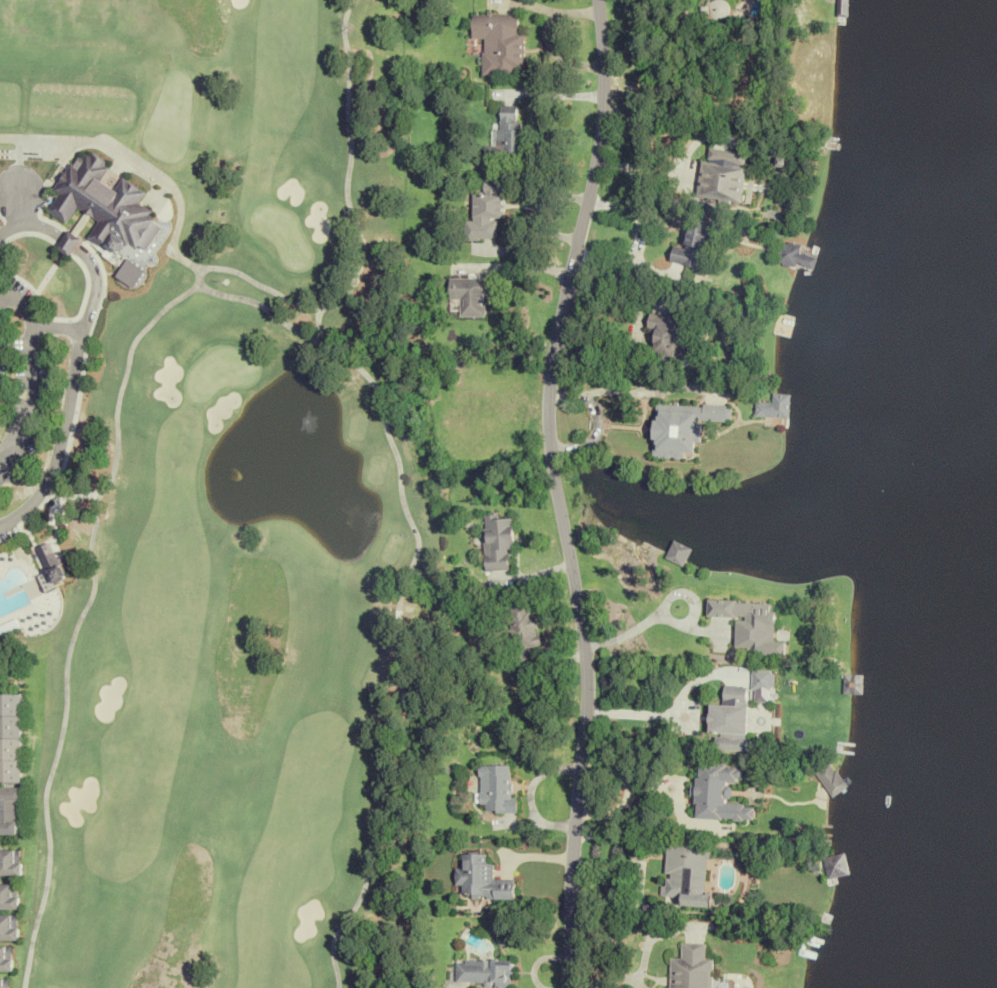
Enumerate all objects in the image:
building: (843, 7)
building: (501, 44)
building: (509, 135)
building: (723, 173)
building: (105, 204)
building: (488, 210)
building: (70, 243)
building: (695, 244)
building: (792, 256)
building: (469, 296)
building: (670, 335)
road: (78, 348)
building: (772, 407)
building: (682, 427)
road: (556, 492)
building: (50, 564)
road: (651, 614)
building: (520, 629)
building: (853, 684)
road: (679, 708)
road: (630, 712)
building: (730, 720)
building: (10, 738)
building: (829, 780)
building: (495, 789)
building: (719, 794)
building: (9, 811)
building: (9, 862)
building: (835, 866)
building: (687, 874)
building: (480, 880)
building: (8, 896)
building: (8, 926)
building: (5, 958)
building: (691, 968)
building: (482, 971)
building: (2, 983)

